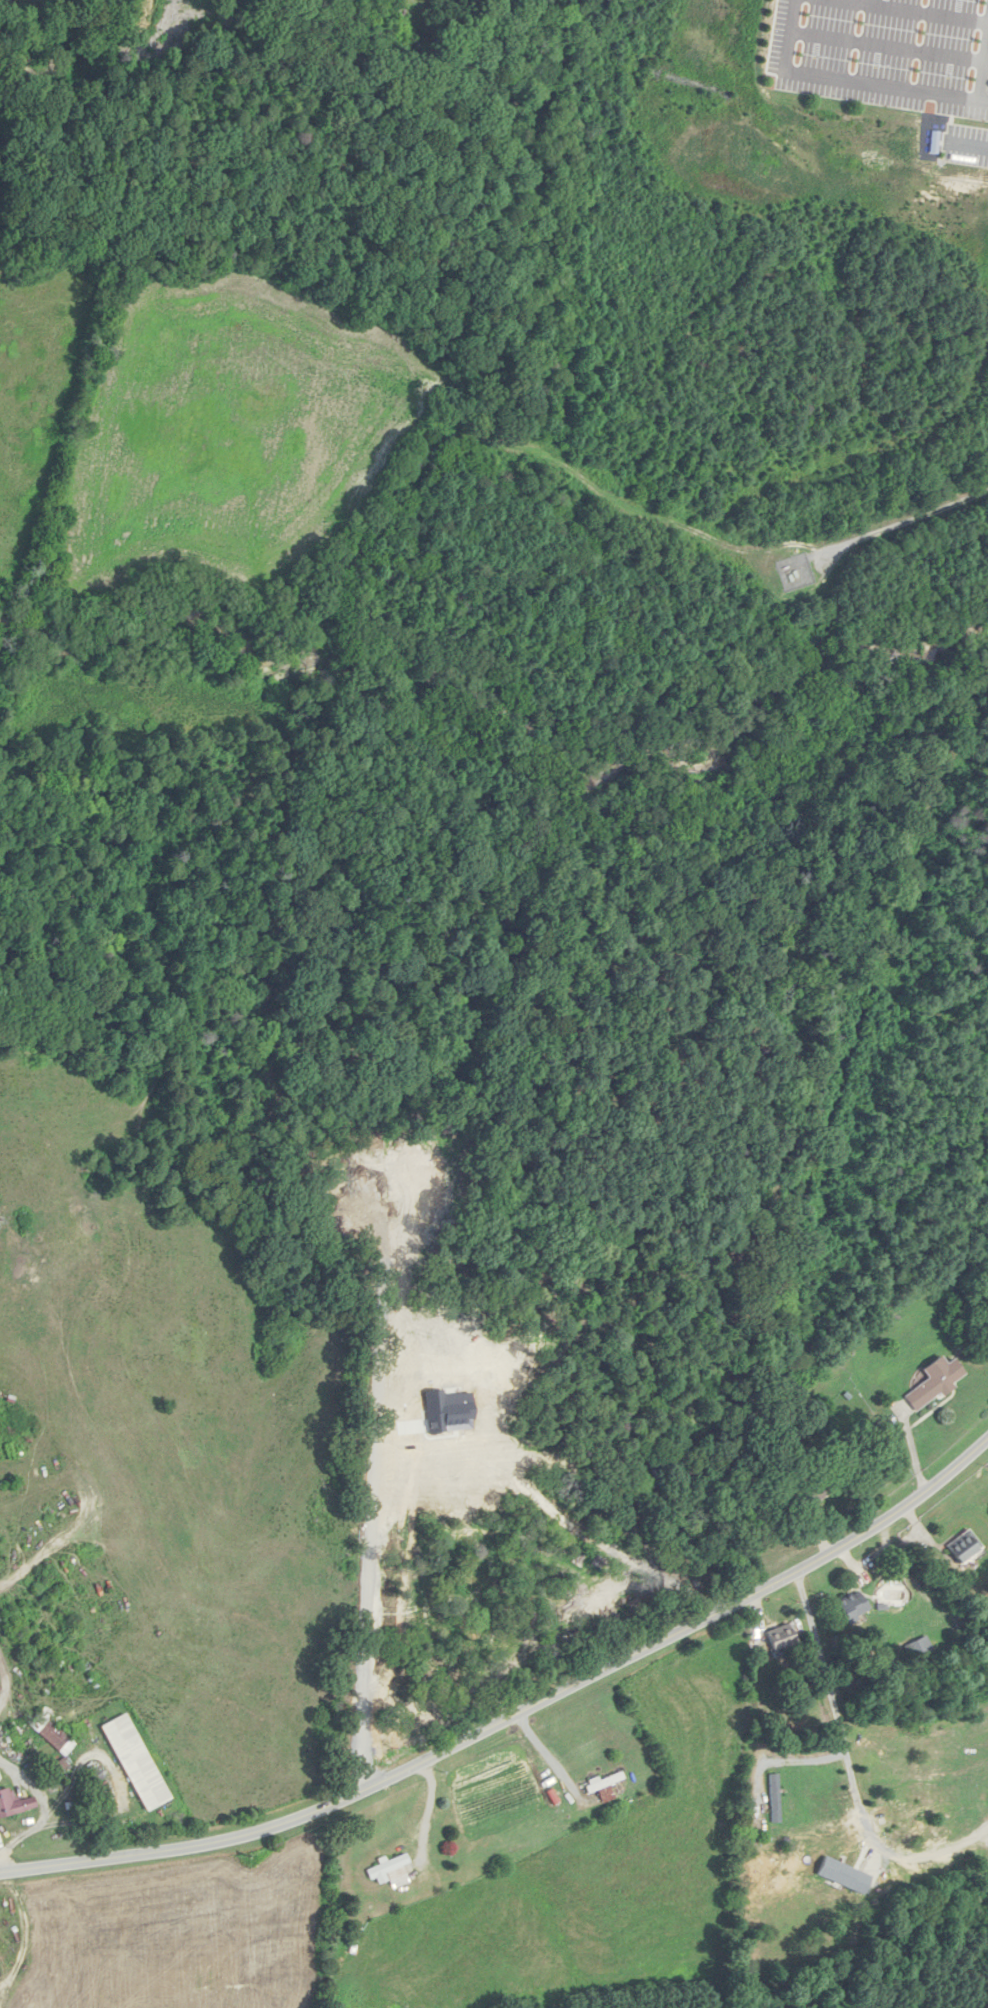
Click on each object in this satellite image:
road: (871, 86)
building: (933, 1382)
road: (405, 1430)
building: (961, 1548)
building: (850, 1607)
building: (778, 1638)
building: (917, 1648)
building: (1, 1688)
road: (516, 1713)
building: (56, 1734)
road: (550, 1757)
building: (140, 1763)
road: (855, 1765)
building: (604, 1783)
building: (774, 1798)
building: (16, 1805)
building: (393, 1872)
building: (355, 1940)

